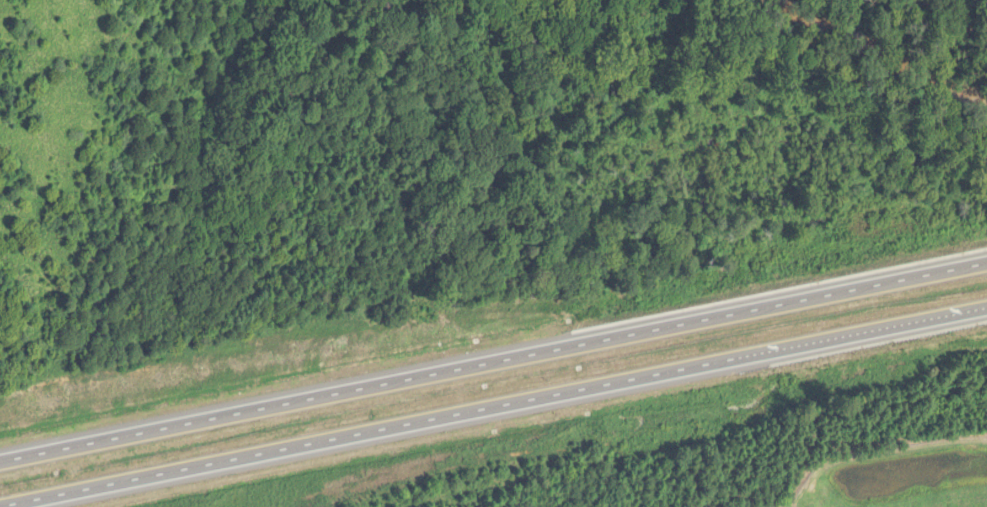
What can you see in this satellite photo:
road: (493, 367)
road: (493, 405)

